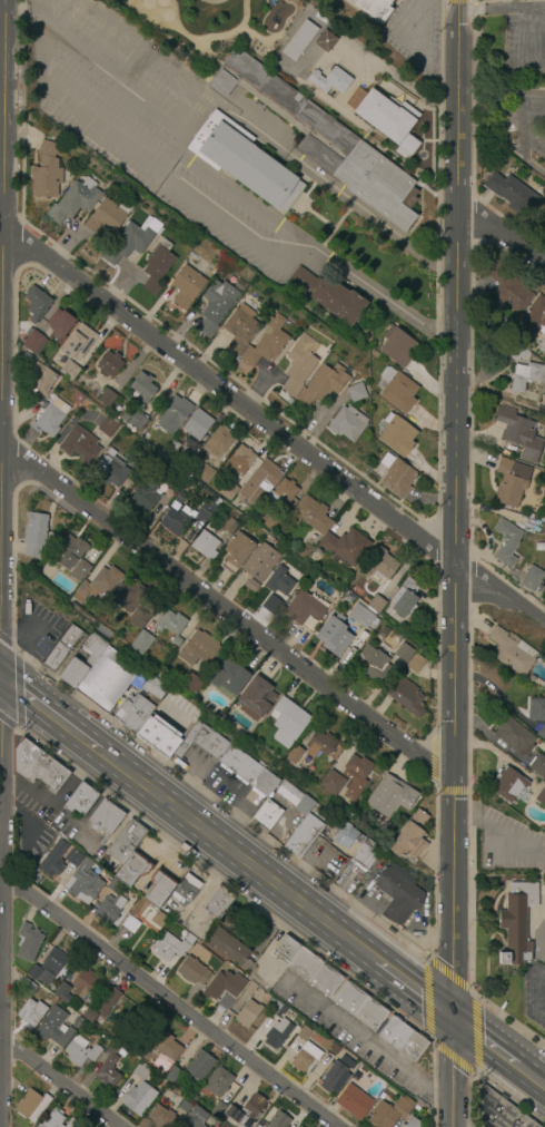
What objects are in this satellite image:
road: (457, 0)
building: (289, 1)
building: (373, 8)
road: (501, 8)
building: (320, 18)
road: (537, 30)
parking lot: (413, 33)
building: (327, 38)
building: (299, 41)
parking lot: (523, 43)
road: (413, 47)
road: (392, 76)
road: (111, 79)
building: (330, 80)
park: (509, 85)
road: (489, 92)
road: (523, 107)
road: (198, 111)
road: (534, 118)
parking lot: (529, 119)
building: (389, 121)
road: (493, 129)
road: (527, 137)
building: (325, 141)
building: (242, 161)
road: (529, 165)
building: (46, 171)
road: (160, 173)
building: (512, 194)
building: (73, 200)
road: (1, 217)
building: (107, 217)
road: (237, 220)
building: (542, 223)
road: (501, 238)
building: (130, 241)
building: (157, 267)
road: (2, 286)
building: (187, 286)
building: (508, 288)
building: (328, 295)
road: (385, 297)
building: (37, 304)
building: (214, 310)
building: (534, 317)
building: (59, 324)
building: (240, 330)
building: (34, 342)
building: (78, 342)
building: (267, 342)
building: (397, 347)
building: (513, 350)
building: (26, 356)
building: (109, 364)
building: (299, 364)
building: (69, 371)
building: (85, 372)
building: (526, 376)
building: (39, 378)
building: (323, 385)
building: (142, 386)
building: (396, 390)
building: (356, 393)
building: (107, 398)
building: (543, 399)
building: (541, 411)
building: (172, 414)
building: (50, 418)
building: (133, 419)
building: (347, 423)
building: (197, 424)
building: (107, 427)
road: (269, 429)
building: (518, 433)
building: (396, 434)
building: (217, 442)
building: (80, 445)
road: (1, 447)
building: (185, 457)
building: (162, 460)
building: (239, 460)
building: (110, 471)
building: (534, 473)
building: (205, 474)
building: (396, 477)
building: (174, 480)
building: (258, 481)
building: (509, 482)
building: (227, 490)
building: (281, 494)
building: (143, 496)
road: (455, 508)
building: (184, 514)
building: (311, 518)
building: (271, 523)
building: (229, 526)
building: (532, 526)
building: (34, 535)
building: (50, 538)
building: (506, 542)
building: (205, 546)
building: (346, 546)
building: (539, 547)
building: (70, 551)
building: (237, 552)
building: (260, 562)
building: (379, 563)
building: (80, 570)
building: (532, 579)
building: (97, 584)
building: (251, 586)
building: (278, 586)
building: (127, 595)
building: (348, 596)
building: (404, 598)
building: (373, 604)
building: (305, 611)
building: (360, 617)
road: (228, 618)
building: (138, 619)
building: (171, 625)
parking lot: (38, 630)
building: (334, 635)
road: (7, 640)
building: (141, 643)
building: (60, 648)
building: (198, 648)
building: (171, 650)
building: (511, 650)
building: (404, 653)
building: (370, 664)
building: (415, 664)
building: (98, 674)
building: (229, 677)
building: (192, 684)
building: (153, 687)
road: (19, 692)
building: (406, 696)
building: (256, 698)
building: (536, 709)
building: (132, 713)
parking lot: (176, 714)
road: (49, 715)
building: (288, 718)
road: (8, 724)
building: (541, 733)
building: (512, 735)
building: (319, 743)
building: (336, 748)
building: (207, 752)
building: (294, 755)
road: (434, 758)
parking lot: (194, 763)
road: (1, 764)
building: (538, 766)
building: (39, 767)
building: (356, 767)
road: (78, 777)
building: (334, 783)
building: (507, 784)
road: (11, 790)
parking lot: (231, 791)
road: (453, 792)
building: (389, 796)
building: (541, 796)
parking lot: (36, 798)
building: (80, 800)
road: (40, 806)
road: (14, 812)
building: (266, 816)
building: (106, 817)
building: (306, 819)
parking lot: (67, 824)
road: (1, 831)
road: (27, 833)
road: (501, 834)
building: (344, 835)
building: (410, 836)
parking lot: (29, 841)
parking lot: (91, 842)
building: (127, 842)
parking lot: (508, 843)
road: (237, 855)
building: (366, 855)
building: (72, 857)
building: (53, 860)
building: (131, 871)
building: (85, 883)
building: (112, 886)
building: (158, 889)
building: (186, 891)
building: (398, 894)
building: (218, 903)
building: (544, 906)
building: (108, 909)
building: (148, 915)
building: (516, 923)
building: (130, 924)
building: (28, 943)
building: (167, 948)
building: (286, 949)
building: (236, 952)
building: (52, 962)
building: (192, 971)
parking lot: (265, 971)
building: (33, 972)
building: (314, 972)
building: (83, 983)
building: (28, 986)
road: (413, 987)
building: (224, 988)
building: (247, 992)
road: (468, 992)
building: (62, 993)
parking lot: (534, 994)
road: (539, 998)
road: (169, 1000)
building: (120, 1003)
building: (101, 1006)
building: (359, 1007)
building: (277, 1008)
building: (31, 1013)
building: (247, 1013)
traffic signals: (450, 1016)
building: (77, 1022)
building: (300, 1023)
building: (53, 1028)
building: (303, 1032)
building: (277, 1033)
parking lot: (351, 1036)
building: (402, 1039)
road: (357, 1040)
road: (483, 1040)
building: (326, 1043)
building: (163, 1049)
building: (334, 1049)
building: (80, 1051)
building: (121, 1053)
building: (305, 1057)
building: (347, 1062)
building: (199, 1065)
building: (108, 1067)
building: (140, 1071)
road: (450, 1071)
building: (172, 1075)
road: (531, 1076)
building: (333, 1078)
road: (59, 1081)
building: (218, 1082)
road: (440, 1094)
building: (138, 1098)
building: (354, 1102)
building: (31, 1106)
building: (218, 1109)
building: (245, 1111)
building: (501, 1111)
building: (390, 1113)
building: (157, 1118)
building: (194, 1118)
building: (52, 1119)
building: (278, 1120)
building: (410, 1123)
building: (70, 1124)
building: (297, 1126)

